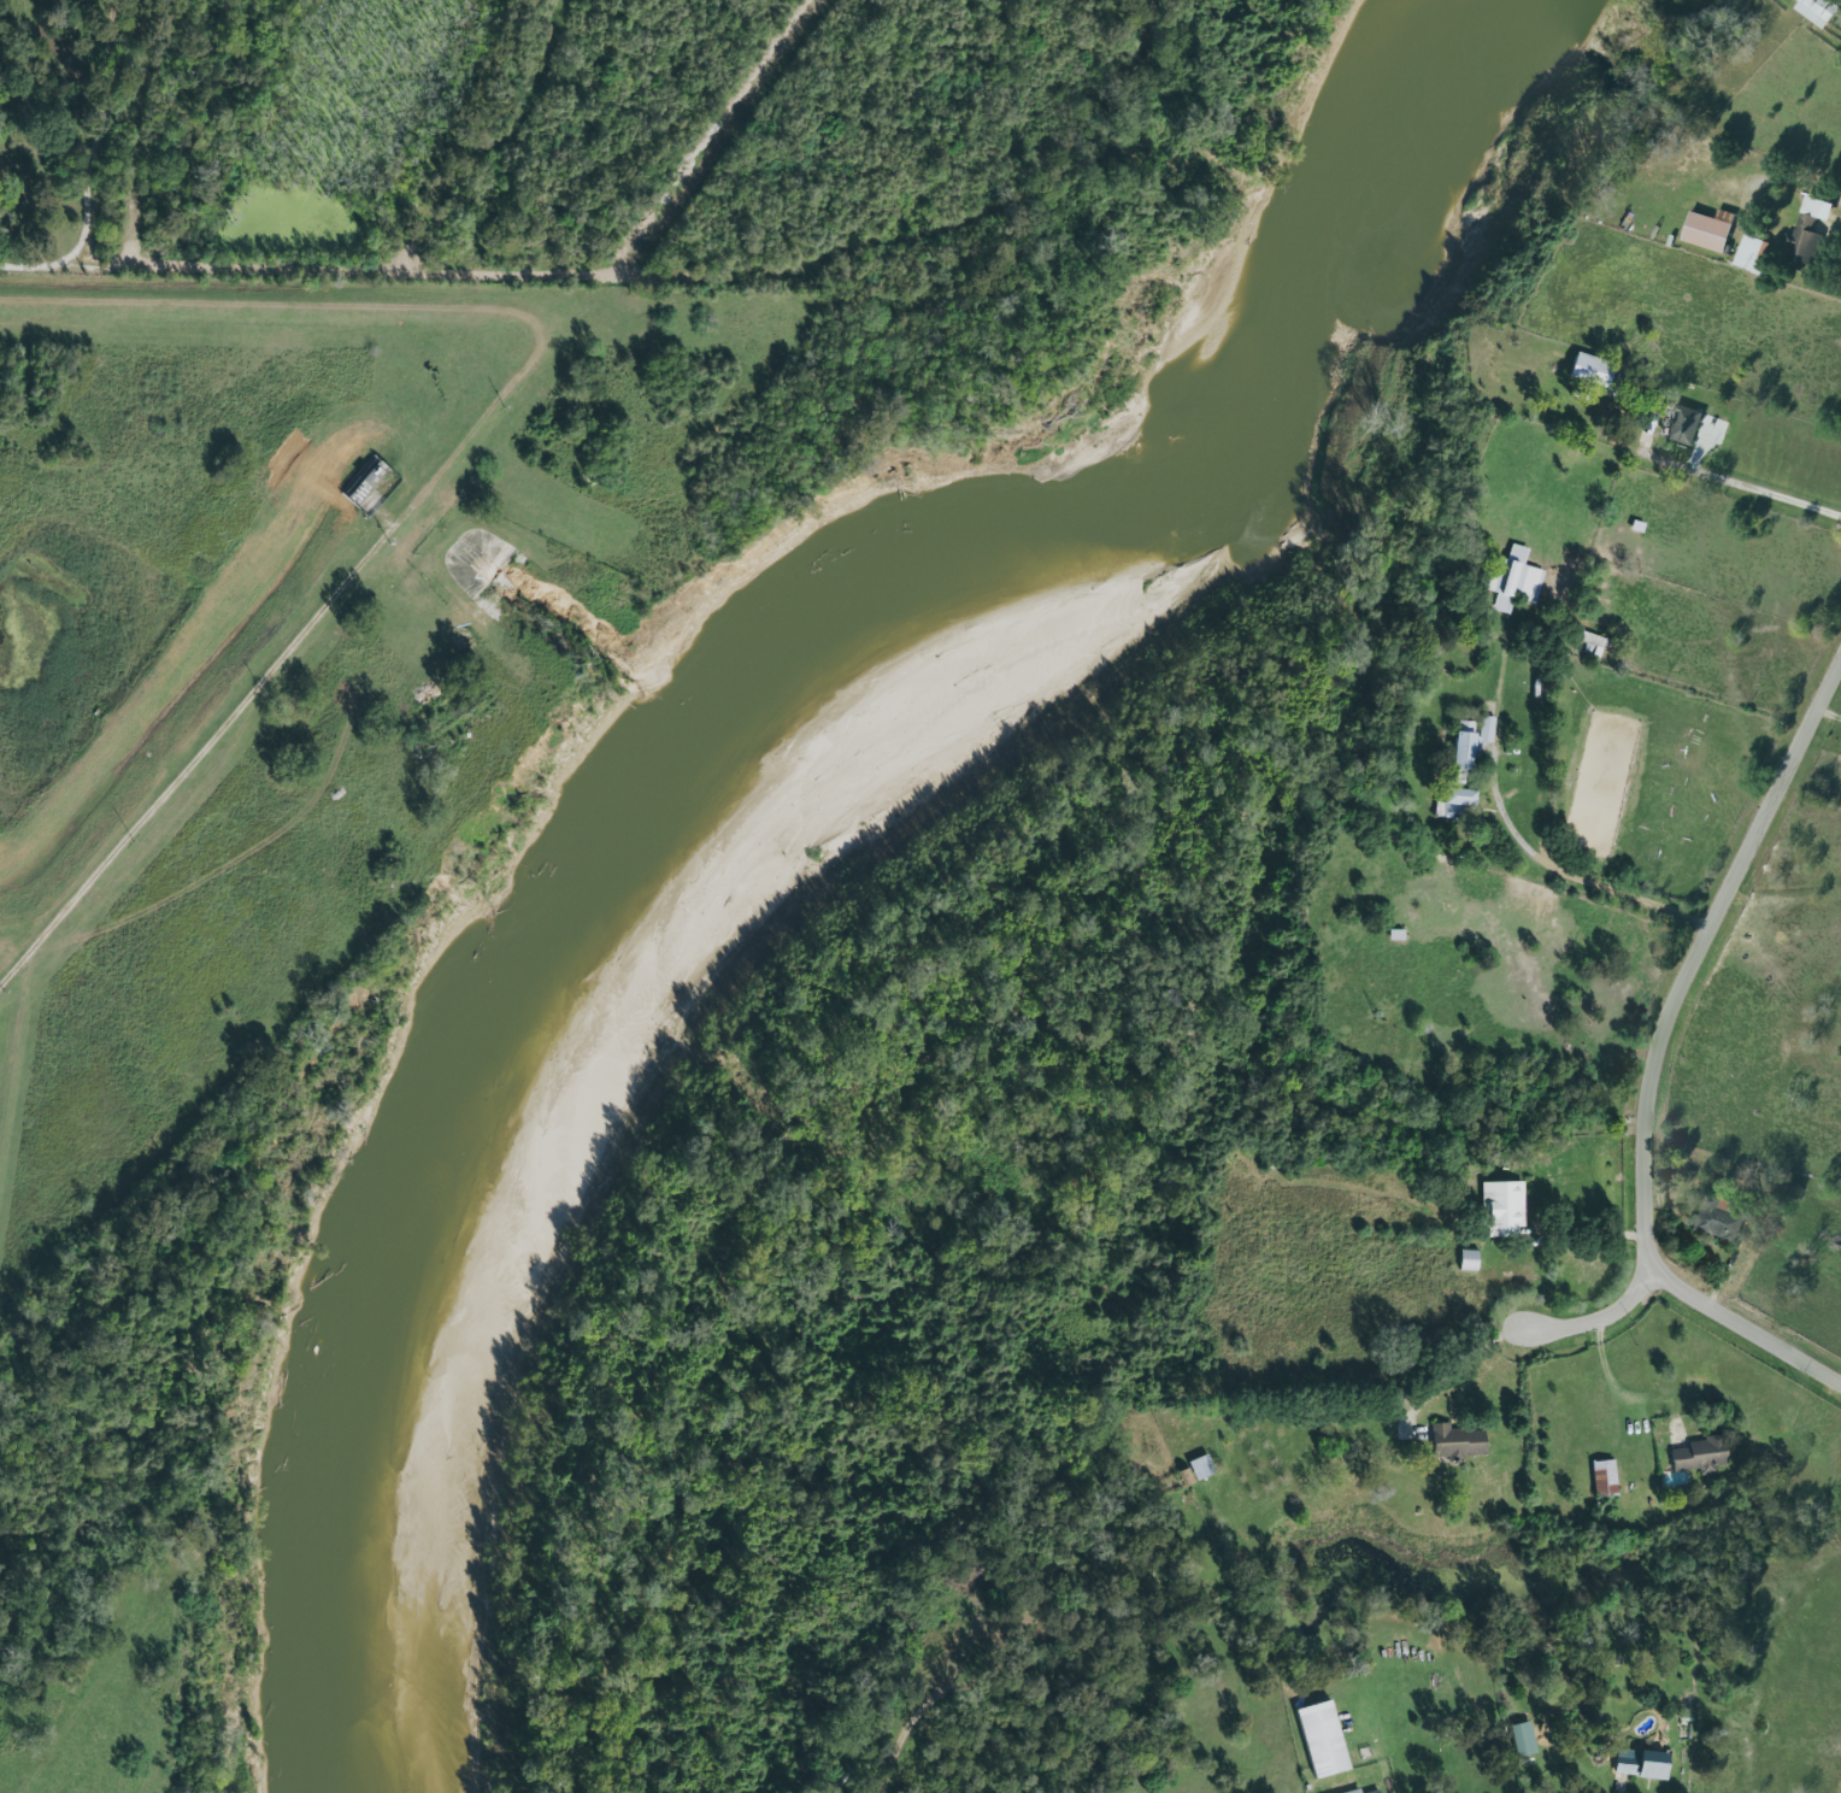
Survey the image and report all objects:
building: (1816, 11)
building: (1708, 230)
building: (1807, 231)
building: (1749, 254)
road: (24, 264)
building: (1592, 370)
building: (1683, 424)
road: (1748, 484)
building: (1512, 576)
building: (1502, 604)
building: (1593, 643)
building: (1486, 729)
building: (1463, 749)
river: (752, 790)
building: (1455, 804)
road: (1513, 837)
road: (1748, 854)
road: (1557, 1051)
building: (1502, 1209)
building: (1717, 1218)
building: (1469, 1260)
road: (1657, 1263)
road: (1595, 1315)
road: (1453, 1363)
road: (1610, 1385)
building: (1455, 1442)
building: (1700, 1456)
building: (1604, 1479)
building: (1523, 1739)
building: (1322, 1740)
building: (1640, 1764)
road: (717, 1782)
building: (1354, 1792)
building: (1375, 1792)

